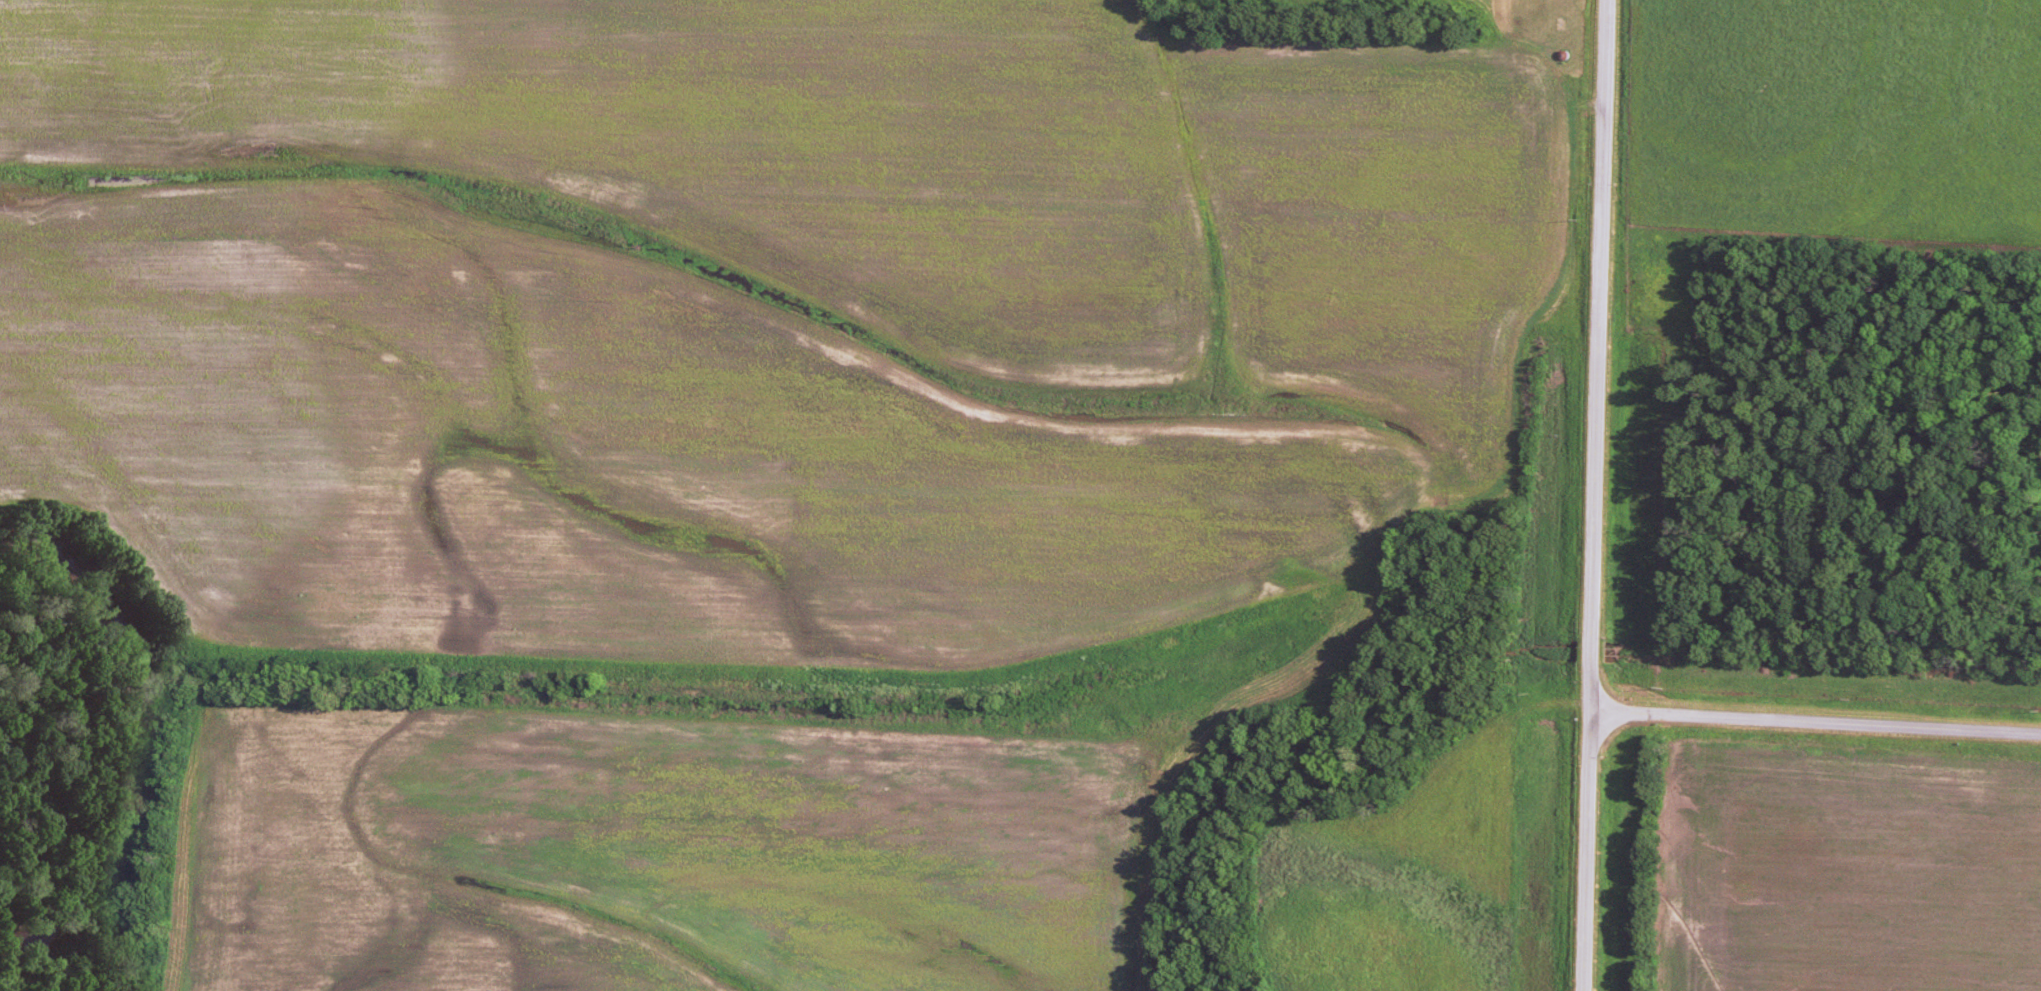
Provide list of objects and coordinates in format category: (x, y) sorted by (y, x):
road: (1595, 495)
road: (1817, 717)
river: (160, 744)

